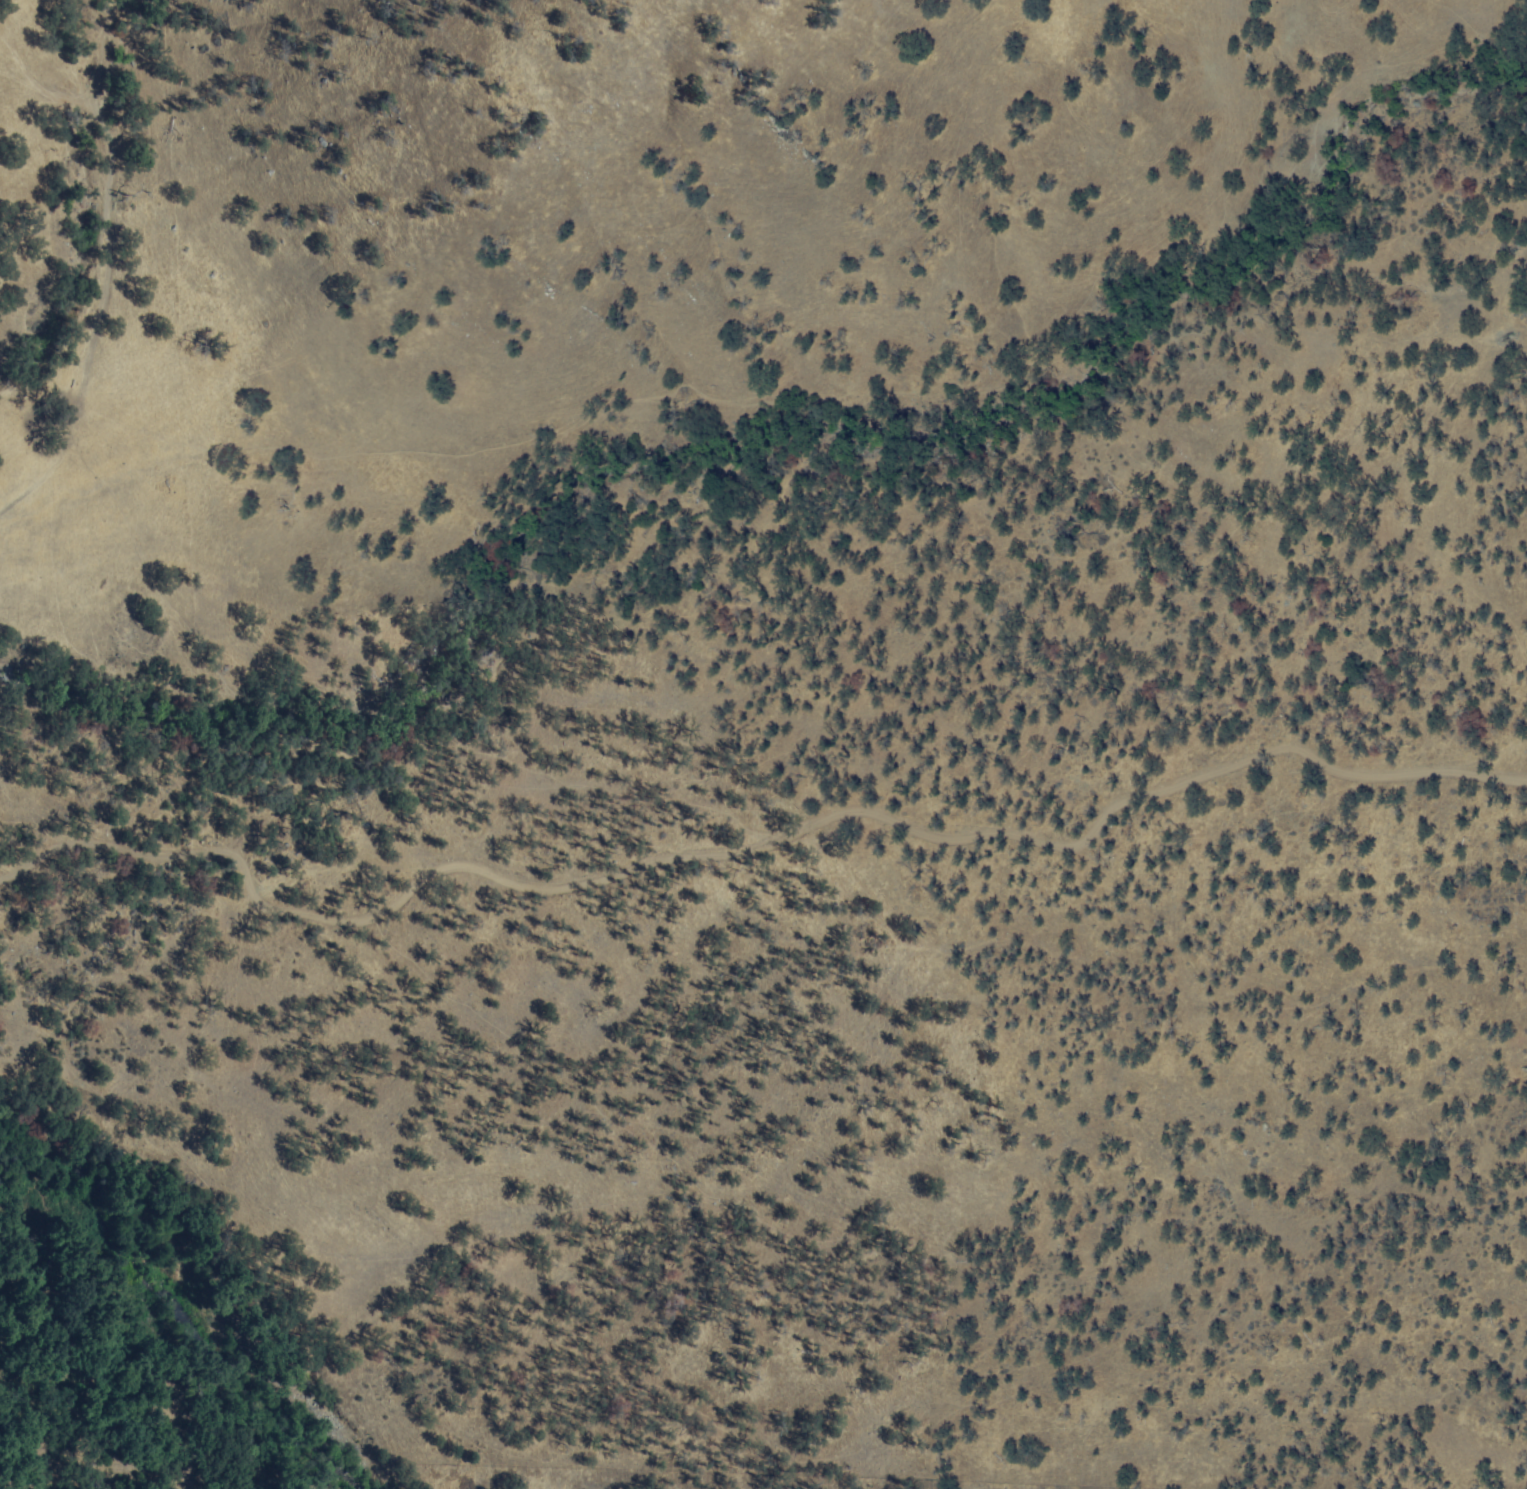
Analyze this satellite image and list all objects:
river: (184, 1311)

